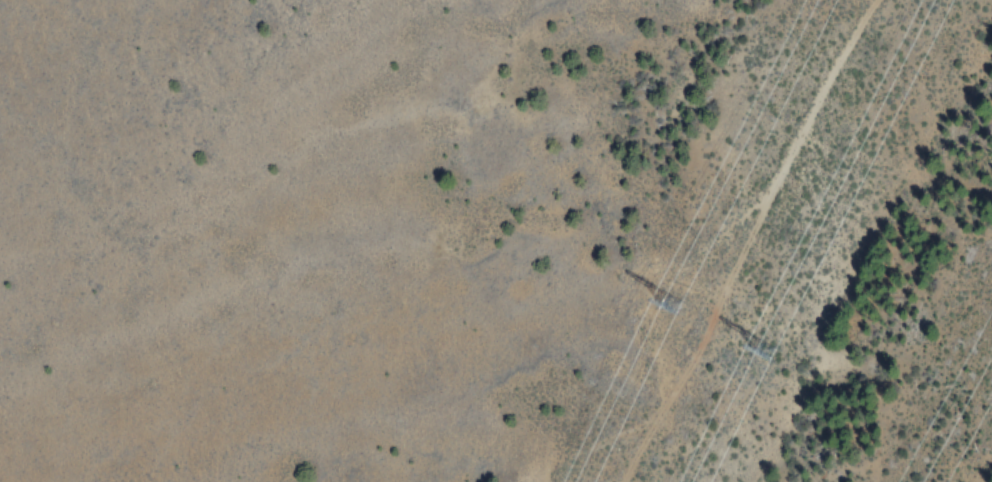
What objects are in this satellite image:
road: (752, 242)
power tower: (677, 311)
power tower: (766, 350)

